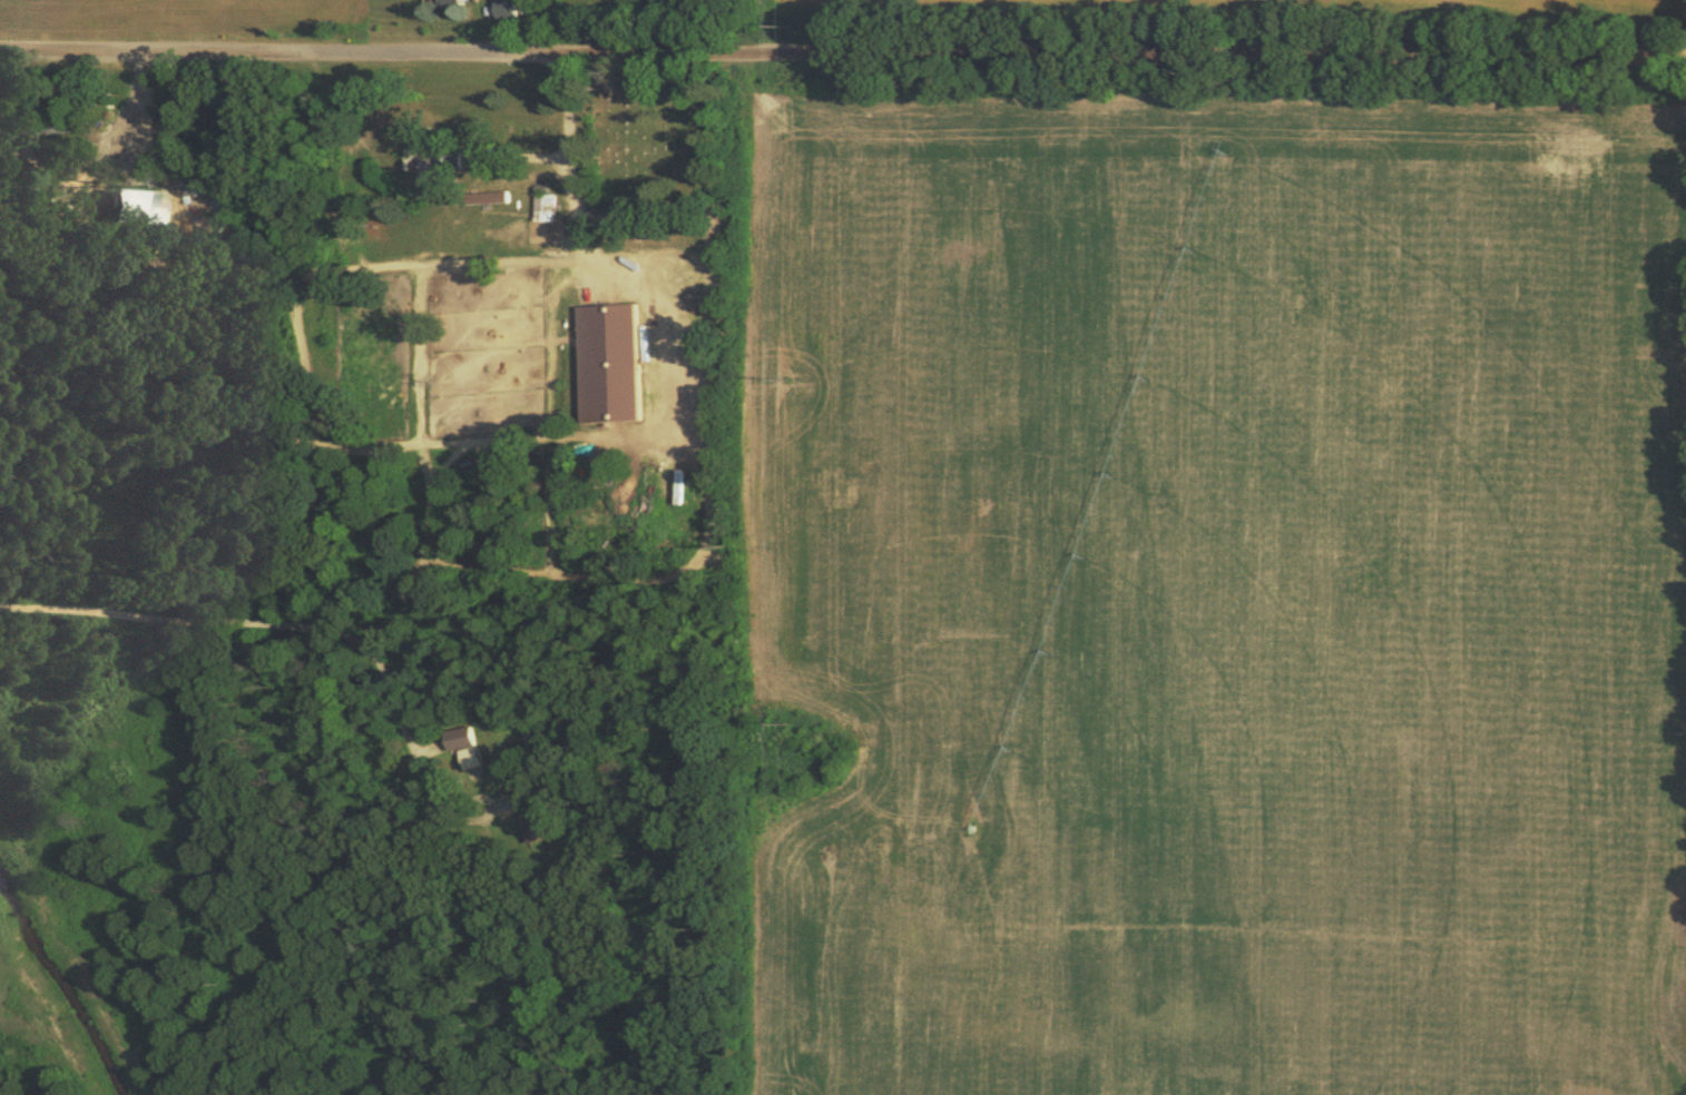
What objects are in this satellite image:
power tower: (793, 32)
road: (618, 52)
road: (1461, 53)
park: (669, 130)
building: (461, 152)
building: (488, 196)
building: (128, 204)
building: (548, 205)
building: (608, 361)
power tower: (794, 384)
power tower: (794, 730)
building: (461, 736)
building: (472, 756)

